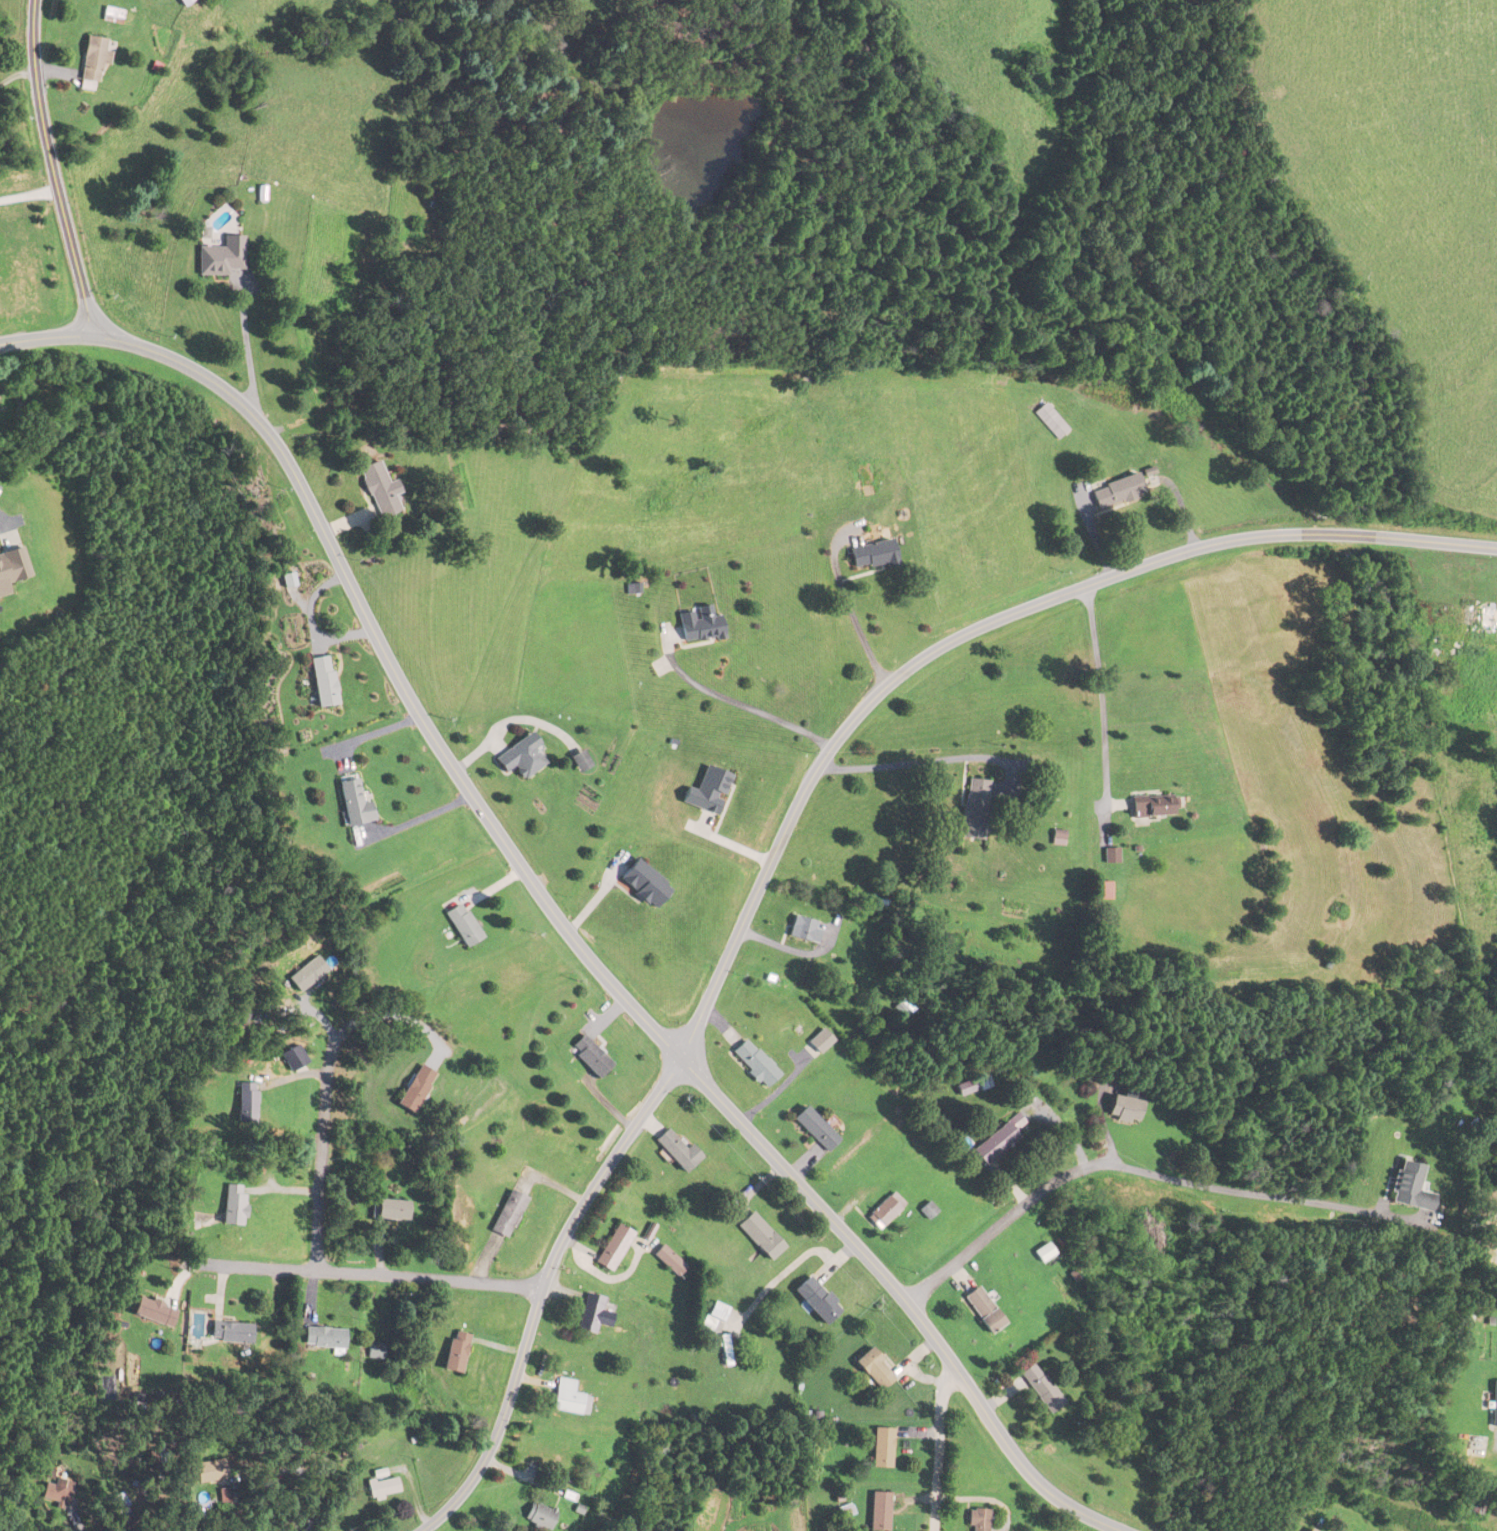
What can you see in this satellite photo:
building: (182, 2)
building: (112, 15)
building: (91, 61)
road: (17, 73)
road: (53, 168)
road: (29, 197)
building: (221, 257)
road: (245, 347)
building: (1049, 419)
building: (376, 490)
building: (1117, 492)
building: (871, 555)
building: (11, 568)
road: (849, 606)
building: (698, 625)
building: (1478, 629)
building: (321, 682)
road: (1100, 696)
road: (733, 701)
building: (519, 757)
road: (925, 760)
building: (579, 761)
building: (352, 804)
building: (1155, 806)
building: (974, 809)
road: (790, 820)
building: (1110, 857)
building: (643, 884)
building: (1102, 891)
road: (549, 907)
building: (462, 925)
building: (801, 929)
building: (307, 969)
road: (403, 1018)
building: (819, 1041)
building: (295, 1056)
building: (589, 1057)
building: (753, 1064)
building: (972, 1086)
building: (414, 1089)
building: (245, 1103)
building: (1124, 1110)
building: (814, 1129)
building: (998, 1140)
road: (321, 1144)
building: (677, 1151)
road: (1146, 1171)
building: (1411, 1188)
building: (232, 1205)
building: (392, 1210)
building: (884, 1210)
building: (507, 1215)
building: (759, 1236)
road: (1137, 1243)
building: (612, 1247)
building: (1043, 1252)
building: (670, 1260)
road: (363, 1273)
building: (816, 1301)
building: (982, 1310)
building: (152, 1312)
building: (591, 1315)
building: (713, 1316)
building: (229, 1333)
building: (323, 1338)
building: (375, 1351)
building: (454, 1353)
building: (873, 1371)
building: (1040, 1389)
building: (568, 1399)
building: (1494, 1405)
building: (881, 1449)
road: (939, 1449)
road: (299, 1468)
building: (210, 1473)
building: (57, 1487)
building: (382, 1488)
building: (878, 1512)
building: (538, 1518)
building: (976, 1520)
building: (1308, 1530)

